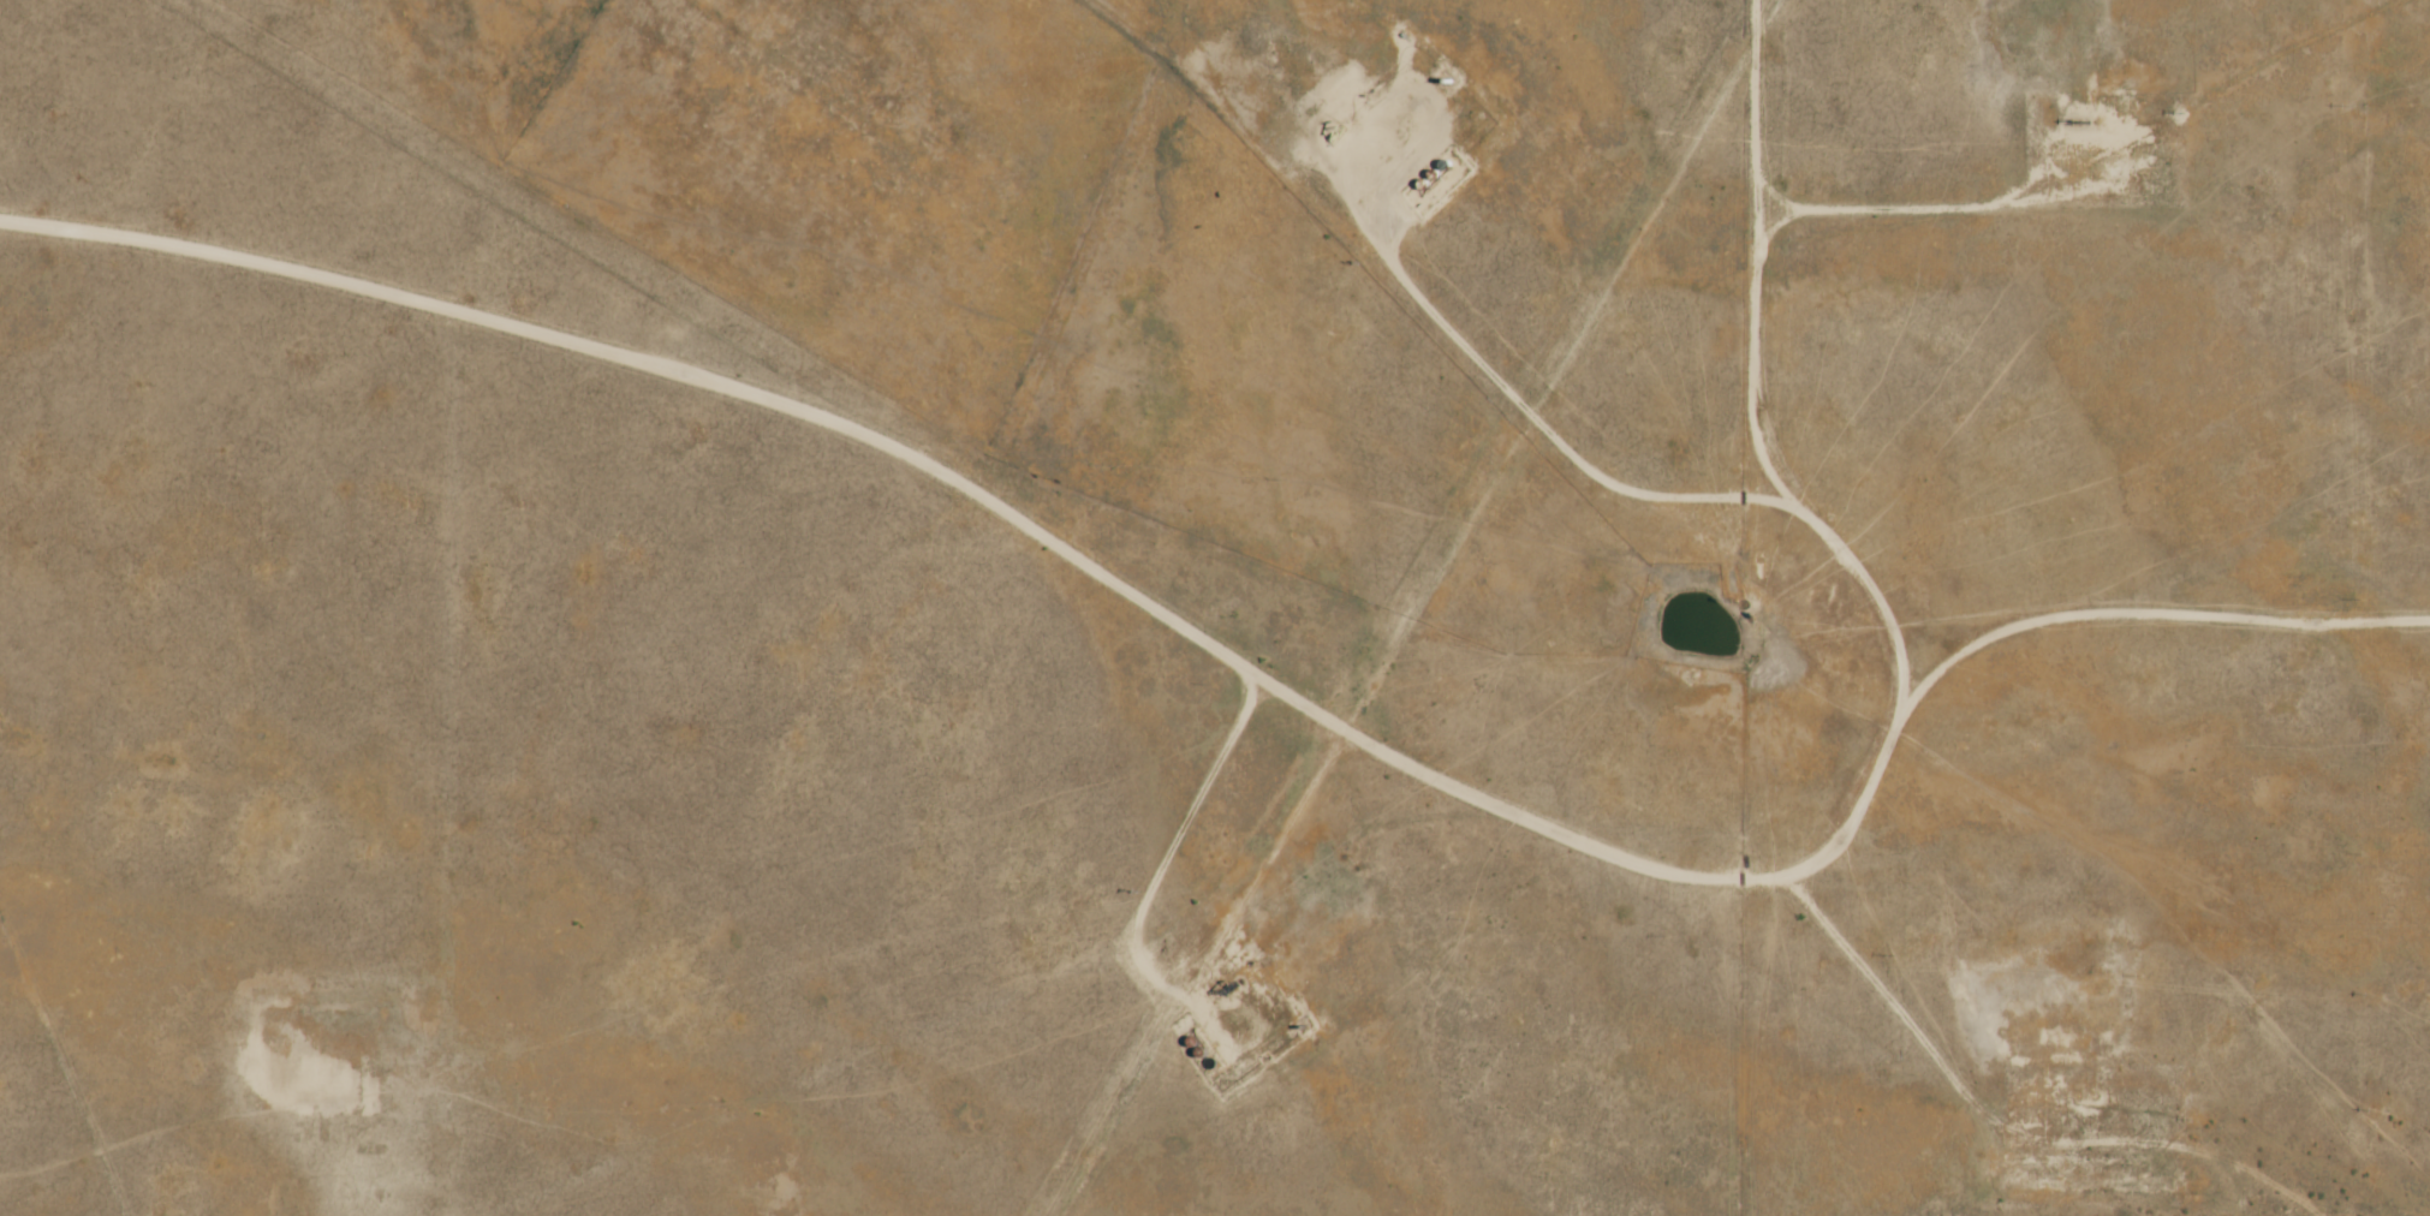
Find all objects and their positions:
road: (1320, 189)
road: (738, 427)
road: (1203, 863)

